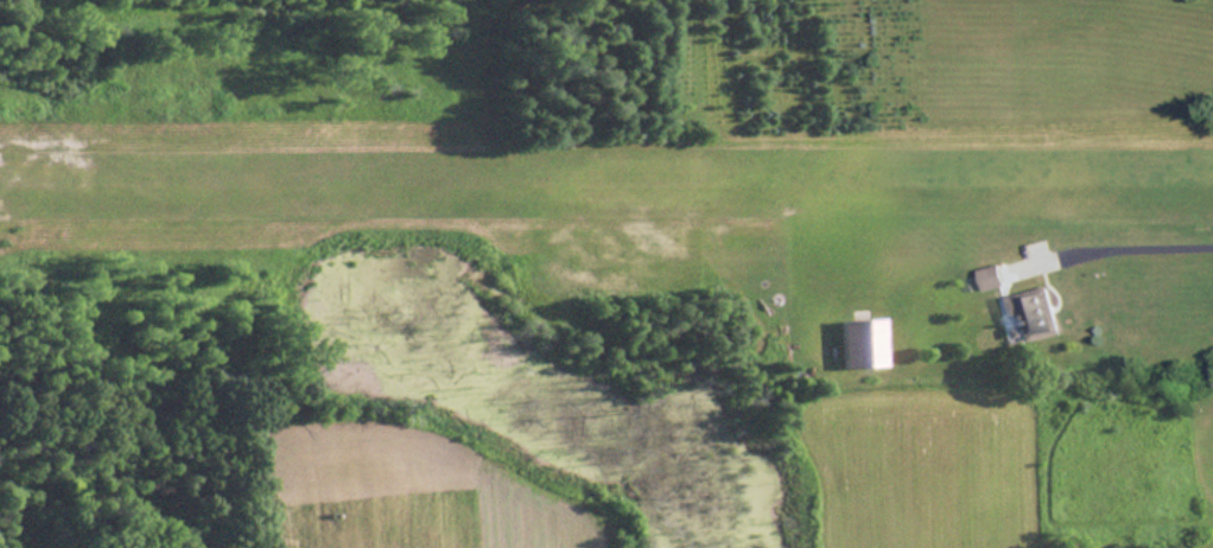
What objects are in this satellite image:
road: (1128, 249)
building: (989, 278)
building: (1031, 314)
building: (868, 344)

